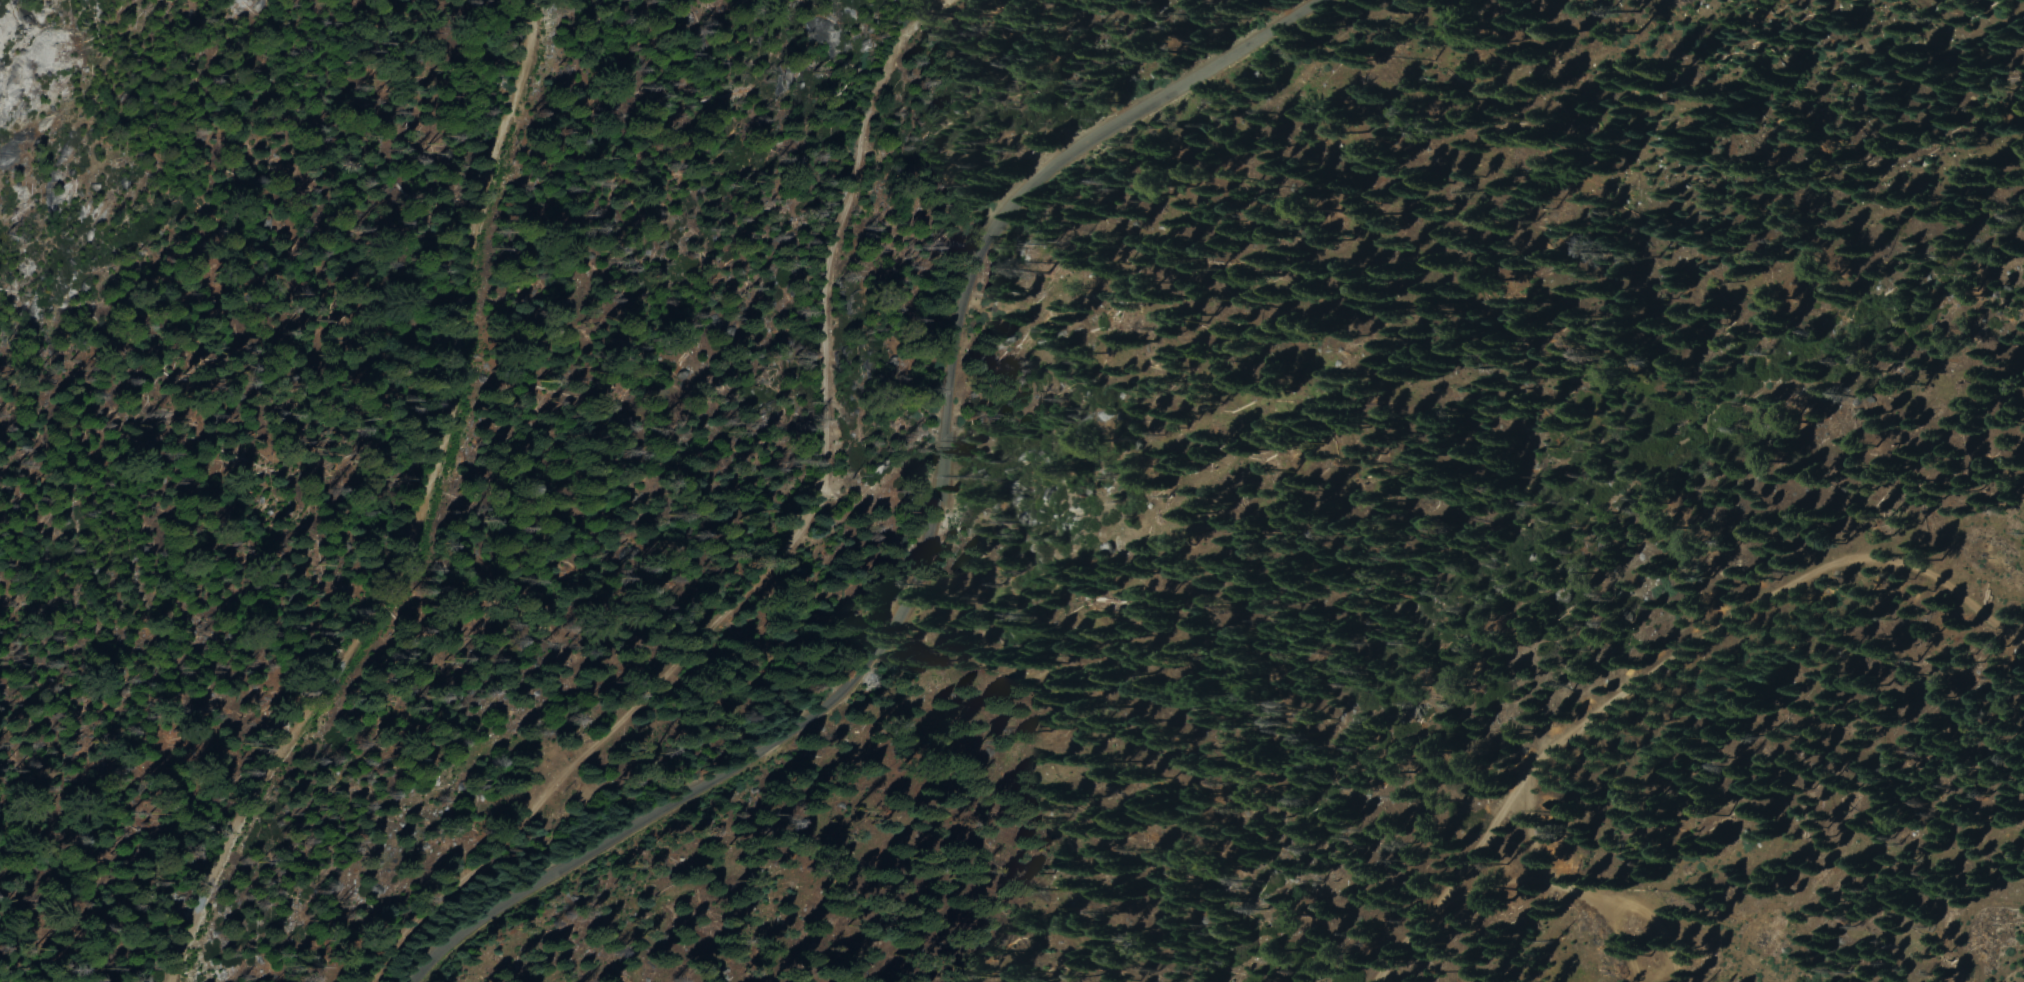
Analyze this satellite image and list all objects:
road: (838, 461)
road: (928, 523)
road: (1761, 597)
road: (1554, 877)
road: (1457, 880)

